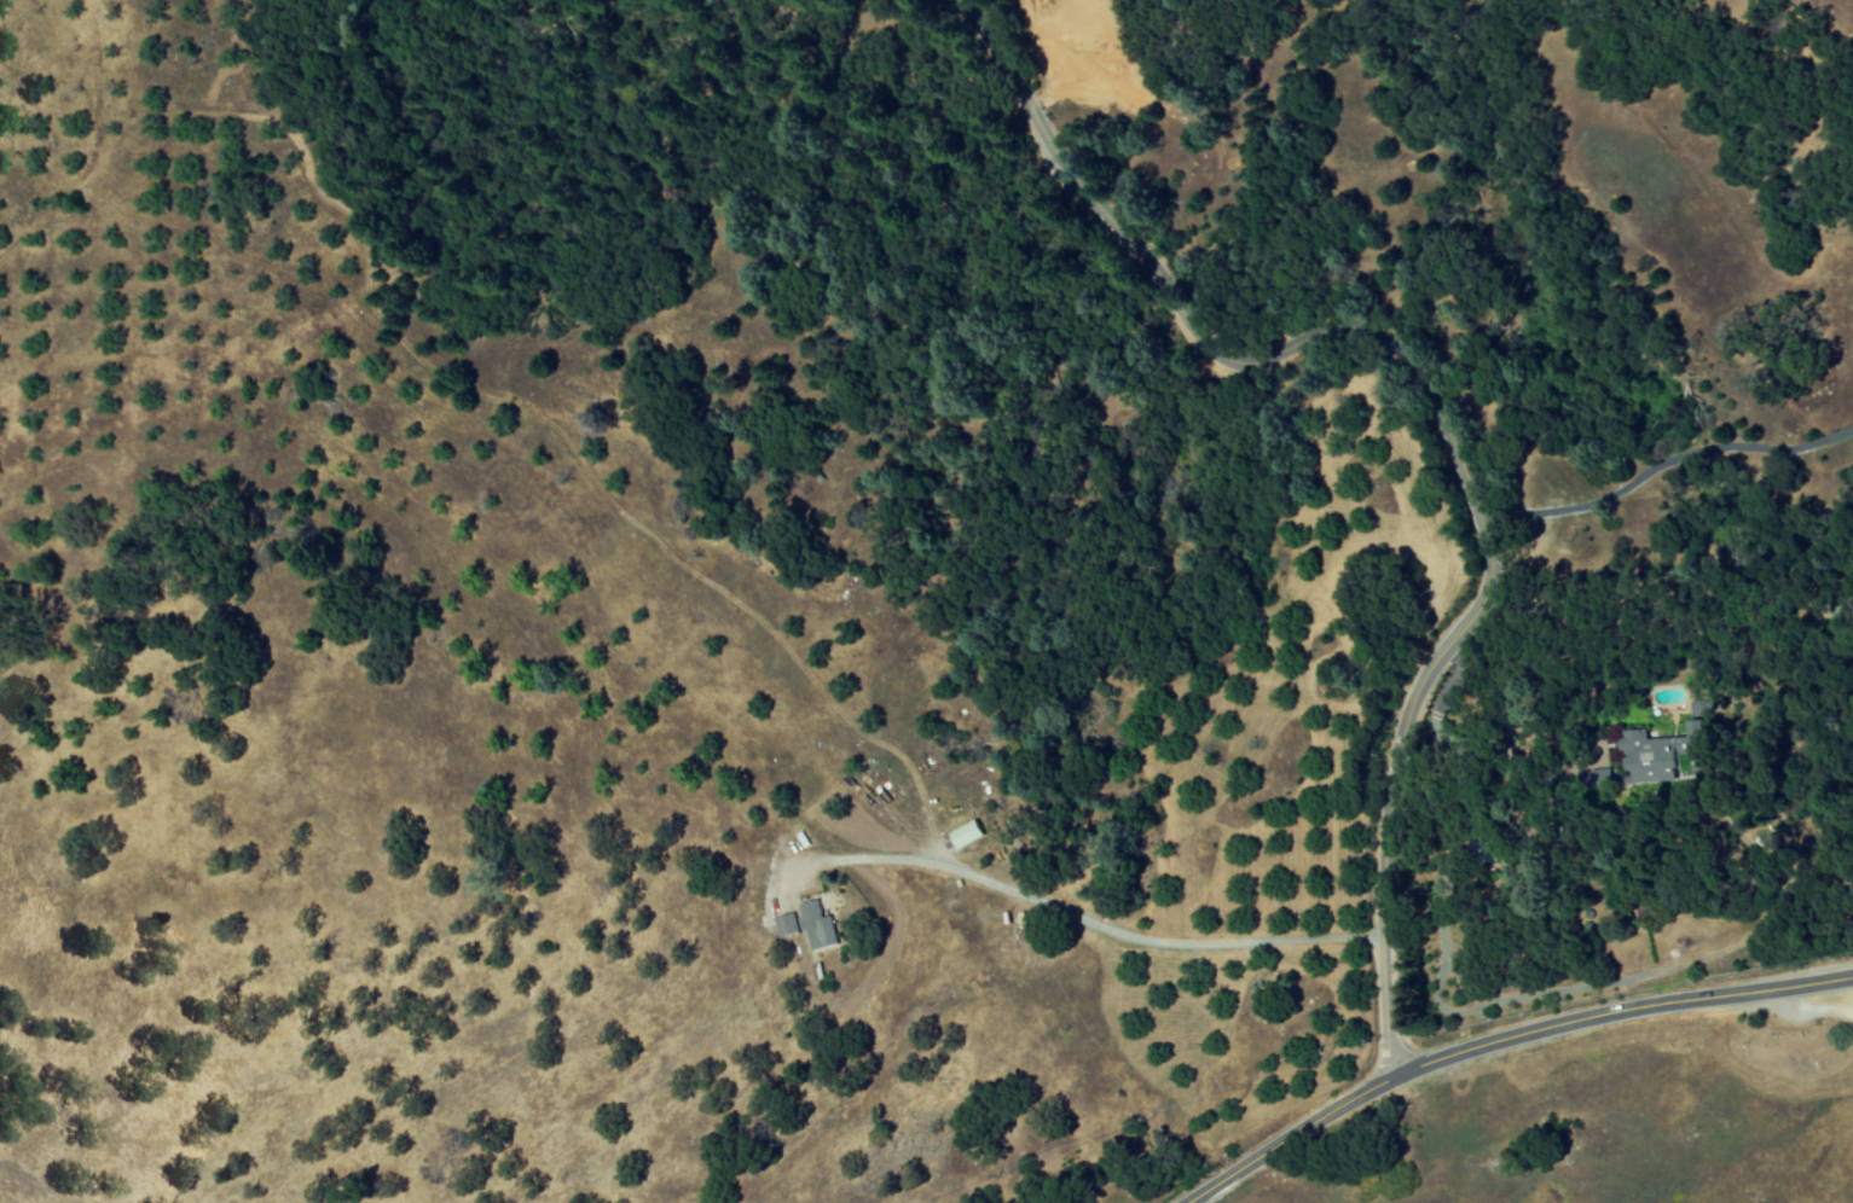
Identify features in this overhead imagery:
road: (1434, 415)
road: (1663, 459)
building: (1668, 750)
building: (969, 833)
road: (1090, 919)
building: (784, 925)
building: (818, 926)
road: (1840, 993)
road: (1504, 1044)

